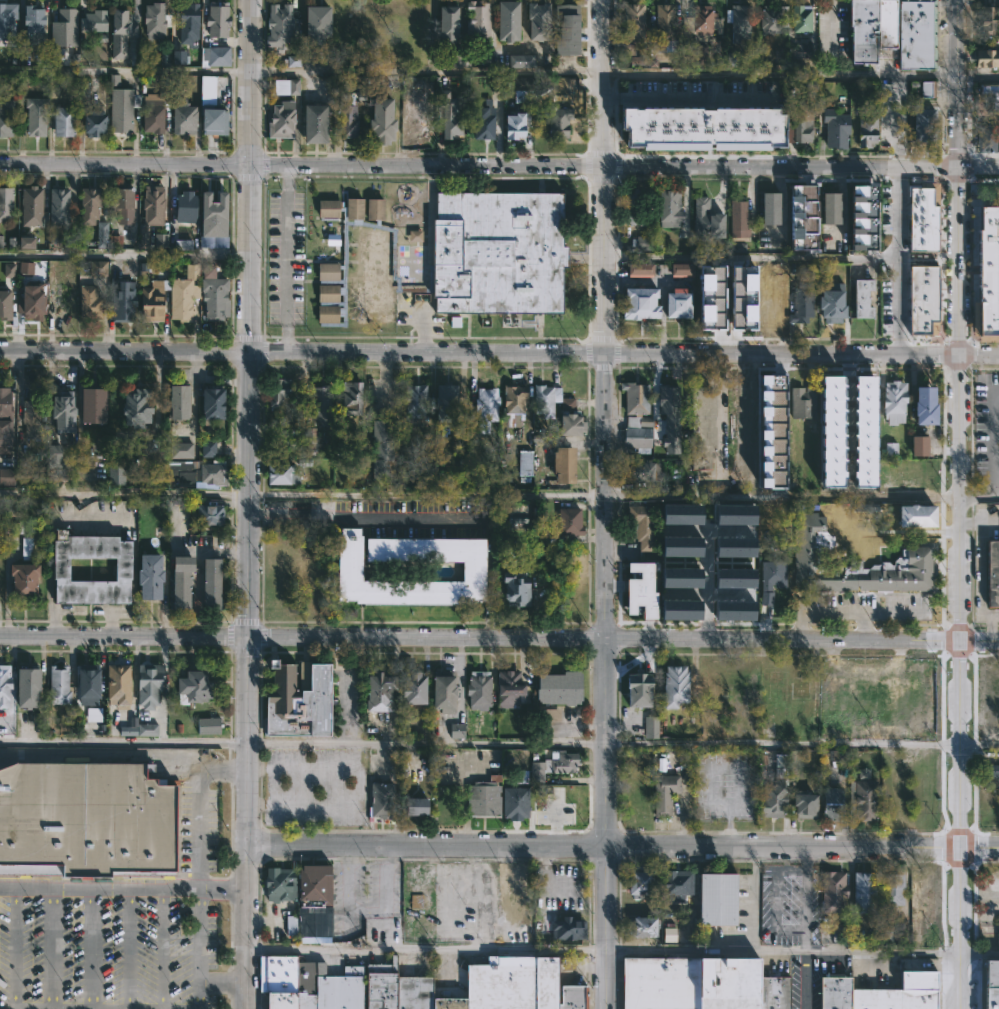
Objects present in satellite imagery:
building: (121, 18)
building: (800, 18)
building: (987, 18)
building: (5, 19)
building: (215, 19)
building: (537, 19)
building: (772, 19)
building: (475, 20)
building: (506, 20)
building: (29, 21)
building: (93, 21)
building: (737, 21)
building: (151, 22)
building: (631, 22)
building: (447, 23)
building: (700, 23)
building: (885, 23)
building: (184, 24)
building: (276, 24)
building: (313, 24)
building: (661, 25)
building: (565, 28)
building: (60, 30)
building: (860, 30)
building: (914, 34)
building: (628, 49)
building: (692, 54)
building: (214, 55)
building: (178, 57)
building: (460, 58)
building: (986, 58)
building: (293, 60)
building: (519, 60)
building: (636, 60)
road: (499, 74)
road: (600, 83)
road: (251, 84)
building: (286, 87)
building: (523, 87)
building: (927, 89)
building: (206, 90)
building: (995, 101)
building: (118, 106)
building: (152, 111)
building: (347, 114)
building: (4, 116)
building: (33, 116)
building: (183, 117)
building: (636, 117)
building: (62, 118)
building: (418, 118)
building: (450, 119)
building: (557, 119)
building: (210, 120)
building: (280, 120)
building: (379, 121)
building: (89, 123)
building: (311, 123)
building: (481, 123)
building: (676, 123)
building: (798, 124)
building: (924, 124)
building: (512, 125)
building: (741, 125)
building: (771, 126)
building: (834, 129)
building: (707, 130)
building: (866, 131)
building: (985, 137)
road: (125, 165)
road: (425, 167)
road: (799, 167)
building: (120, 202)
building: (86, 203)
building: (5, 204)
building: (151, 204)
building: (803, 204)
building: (28, 205)
building: (56, 206)
building: (184, 207)
building: (631, 207)
building: (830, 207)
building: (667, 209)
building: (768, 209)
building: (859, 211)
building: (213, 212)
building: (922, 215)
building: (706, 219)
building: (736, 219)
building: (101, 234)
building: (415, 235)
building: (161, 240)
building: (794, 240)
building: (1, 242)
building: (26, 242)
building: (643, 243)
building: (185, 245)
building: (452, 256)
road: (749, 256)
road: (125, 257)
road: (250, 259)
road: (603, 259)
road: (286, 260)
road: (895, 261)
building: (25, 268)
building: (98, 268)
building: (639, 269)
building: (9, 270)
building: (682, 270)
building: (988, 274)
building: (922, 293)
building: (183, 294)
building: (212, 296)
building: (742, 297)
building: (711, 298)
building: (860, 298)
building: (61, 301)
building: (122, 301)
building: (30, 302)
building: (88, 302)
building: (150, 302)
building: (639, 303)
building: (676, 303)
building: (800, 303)
building: (4, 305)
building: (828, 306)
road: (960, 319)
building: (932, 322)
road: (125, 350)
road: (427, 352)
road: (801, 354)
building: (276, 392)
building: (348, 399)
building: (413, 400)
building: (512, 400)
building: (544, 400)
building: (176, 401)
building: (210, 402)
building: (893, 402)
building: (801, 403)
building: (318, 404)
building: (443, 404)
building: (924, 405)
building: (3, 406)
building: (88, 406)
building: (134, 407)
building: (482, 409)
building: (57, 411)
road: (719, 414)
building: (669, 417)
building: (636, 418)
building: (28, 419)
building: (570, 424)
building: (701, 427)
road: (997, 428)
building: (772, 431)
building: (831, 431)
building: (864, 431)
building: (5, 436)
building: (919, 446)
building: (207, 449)
building: (180, 450)
building: (379, 451)
building: (51, 456)
building: (96, 462)
building: (524, 464)
building: (562, 464)
building: (639, 471)
building: (195, 473)
building: (116, 475)
building: (281, 475)
building: (7, 477)
road: (995, 478)
road: (124, 493)
road: (249, 494)
road: (607, 495)
road: (980, 496)
road: (428, 498)
building: (517, 513)
building: (679, 514)
building: (735, 514)
building: (208, 515)
building: (915, 515)
road: (368, 520)
building: (569, 521)
road: (970, 522)
building: (641, 525)
building: (12, 527)
building: (26, 546)
building: (679, 546)
road: (189, 551)
building: (734, 552)
road: (981, 565)
building: (856, 567)
building: (121, 570)
building: (473, 571)
road: (707, 573)
building: (992, 575)
building: (679, 577)
building: (144, 578)
building: (770, 579)
building: (23, 580)
building: (179, 582)
building: (734, 583)
building: (209, 585)
building: (641, 590)
building: (512, 591)
building: (679, 609)
road: (833, 610)
road: (891, 611)
road: (799, 624)
road: (866, 625)
road: (993, 627)
road: (499, 638)
building: (147, 684)
building: (115, 685)
building: (3, 686)
building: (55, 687)
building: (672, 687)
building: (83, 688)
building: (192, 688)
building: (22, 689)
building: (412, 689)
building: (508, 689)
building: (558, 689)
building: (442, 691)
building: (476, 691)
building: (636, 691)
building: (916, 691)
building: (376, 694)
building: (862, 694)
building: (297, 701)
road: (349, 708)
building: (93, 714)
building: (551, 715)
building: (207, 725)
building: (651, 727)
building: (138, 728)
building: (457, 731)
road: (123, 743)
road: (426, 743)
road: (784, 743)
road: (981, 745)
building: (553, 765)
building: (990, 771)
parking lot: (314, 786)
building: (662, 794)
building: (482, 797)
building: (772, 800)
building: (863, 800)
building: (381, 801)
building: (514, 803)
building: (830, 804)
building: (804, 806)
building: (414, 807)
road: (199, 808)
building: (86, 818)
road: (246, 823)
road: (606, 824)
road: (960, 824)
road: (622, 847)
building: (639, 881)
building: (278, 884)
building: (676, 884)
road: (123, 885)
building: (313, 888)
building: (890, 889)
building: (516, 891)
road: (544, 891)
building: (832, 891)
building: (864, 891)
road: (344, 892)
road: (504, 898)
building: (716, 898)
road: (804, 898)
road: (383, 899)
road: (752, 899)
building: (415, 901)
building: (640, 927)
building: (567, 929)
building: (669, 934)
building: (925, 934)
building: (997, 940)
road: (199, 946)
road: (14, 947)
road: (53, 947)
road: (89, 947)
road: (128, 947)
road: (160, 947)
road: (426, 949)
road: (783, 949)
parking lot: (105, 954)
road: (979, 957)
building: (307, 975)
road: (804, 979)
road: (223, 980)
building: (277, 981)
building: (689, 983)
building: (379, 985)
building: (917, 985)
building: (992, 985)
building: (505, 986)
building: (334, 991)
building: (411, 992)
building: (834, 992)
building: (767, 993)
building: (783, 993)
building: (571, 997)
building: (877, 999)
building: (928, 1003)
building: (915, 1004)

